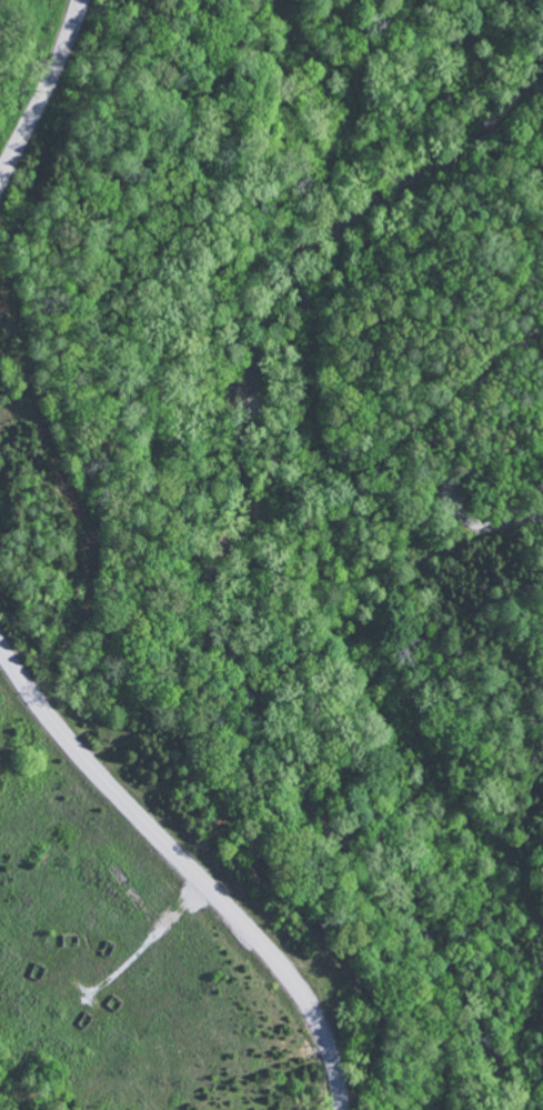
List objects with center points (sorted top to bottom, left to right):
road: (44, 92)
road: (491, 591)
road: (423, 759)
road: (188, 869)
road: (148, 944)

